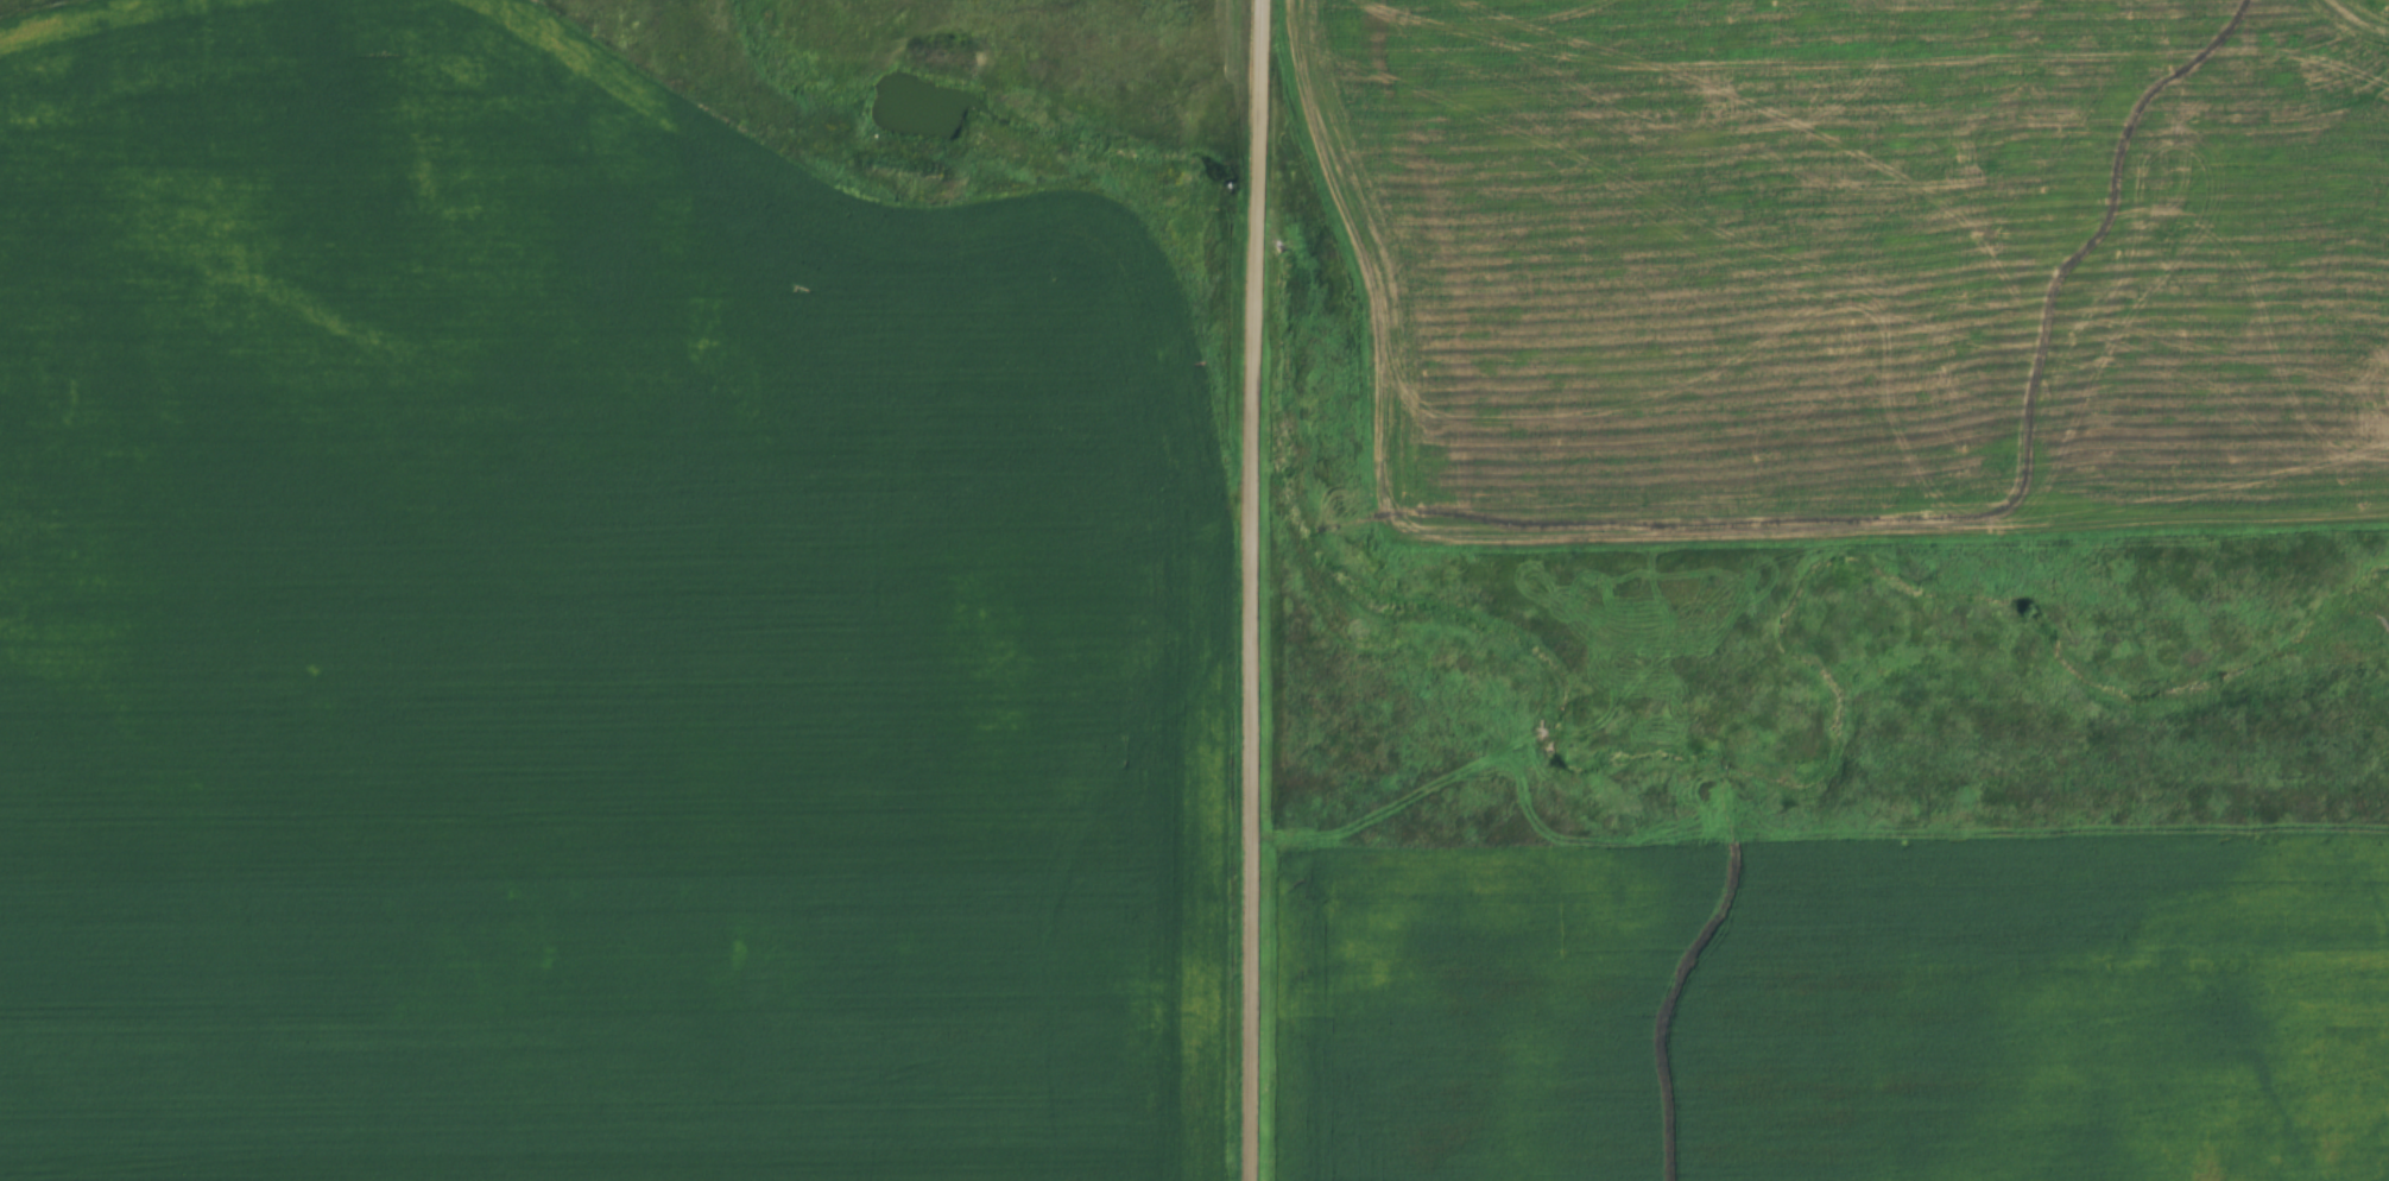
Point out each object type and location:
road: (1256, 589)

